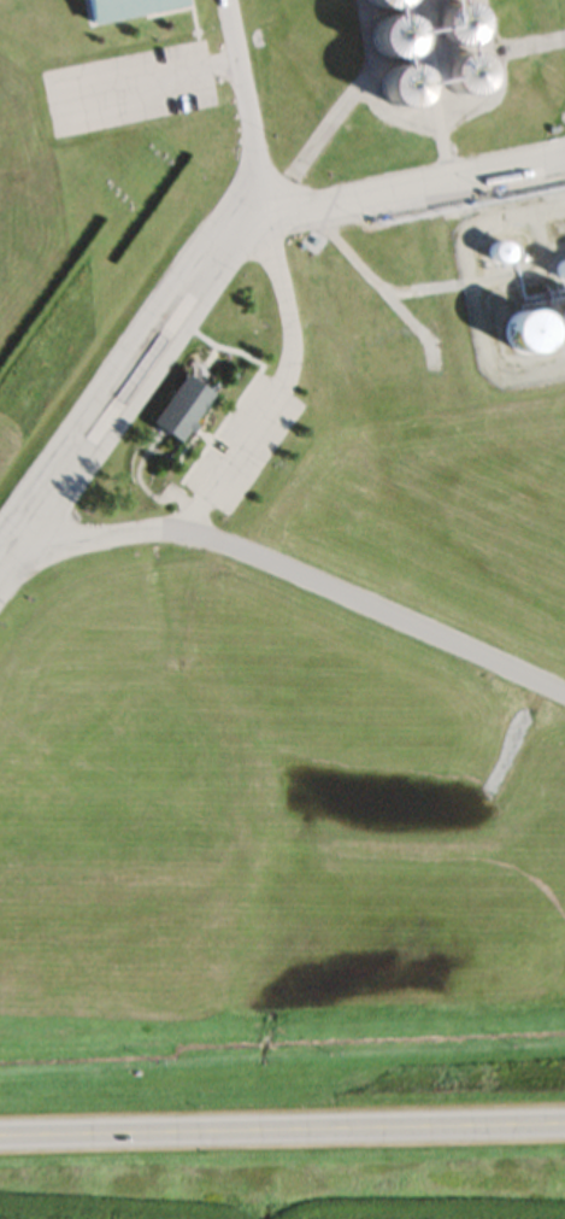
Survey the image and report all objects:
building: (126, 11)
building: (422, 98)
road: (413, 192)
road: (275, 283)
road: (125, 352)
road: (131, 406)
building: (182, 415)
road: (82, 545)
road: (369, 615)
road: (282, 1133)

